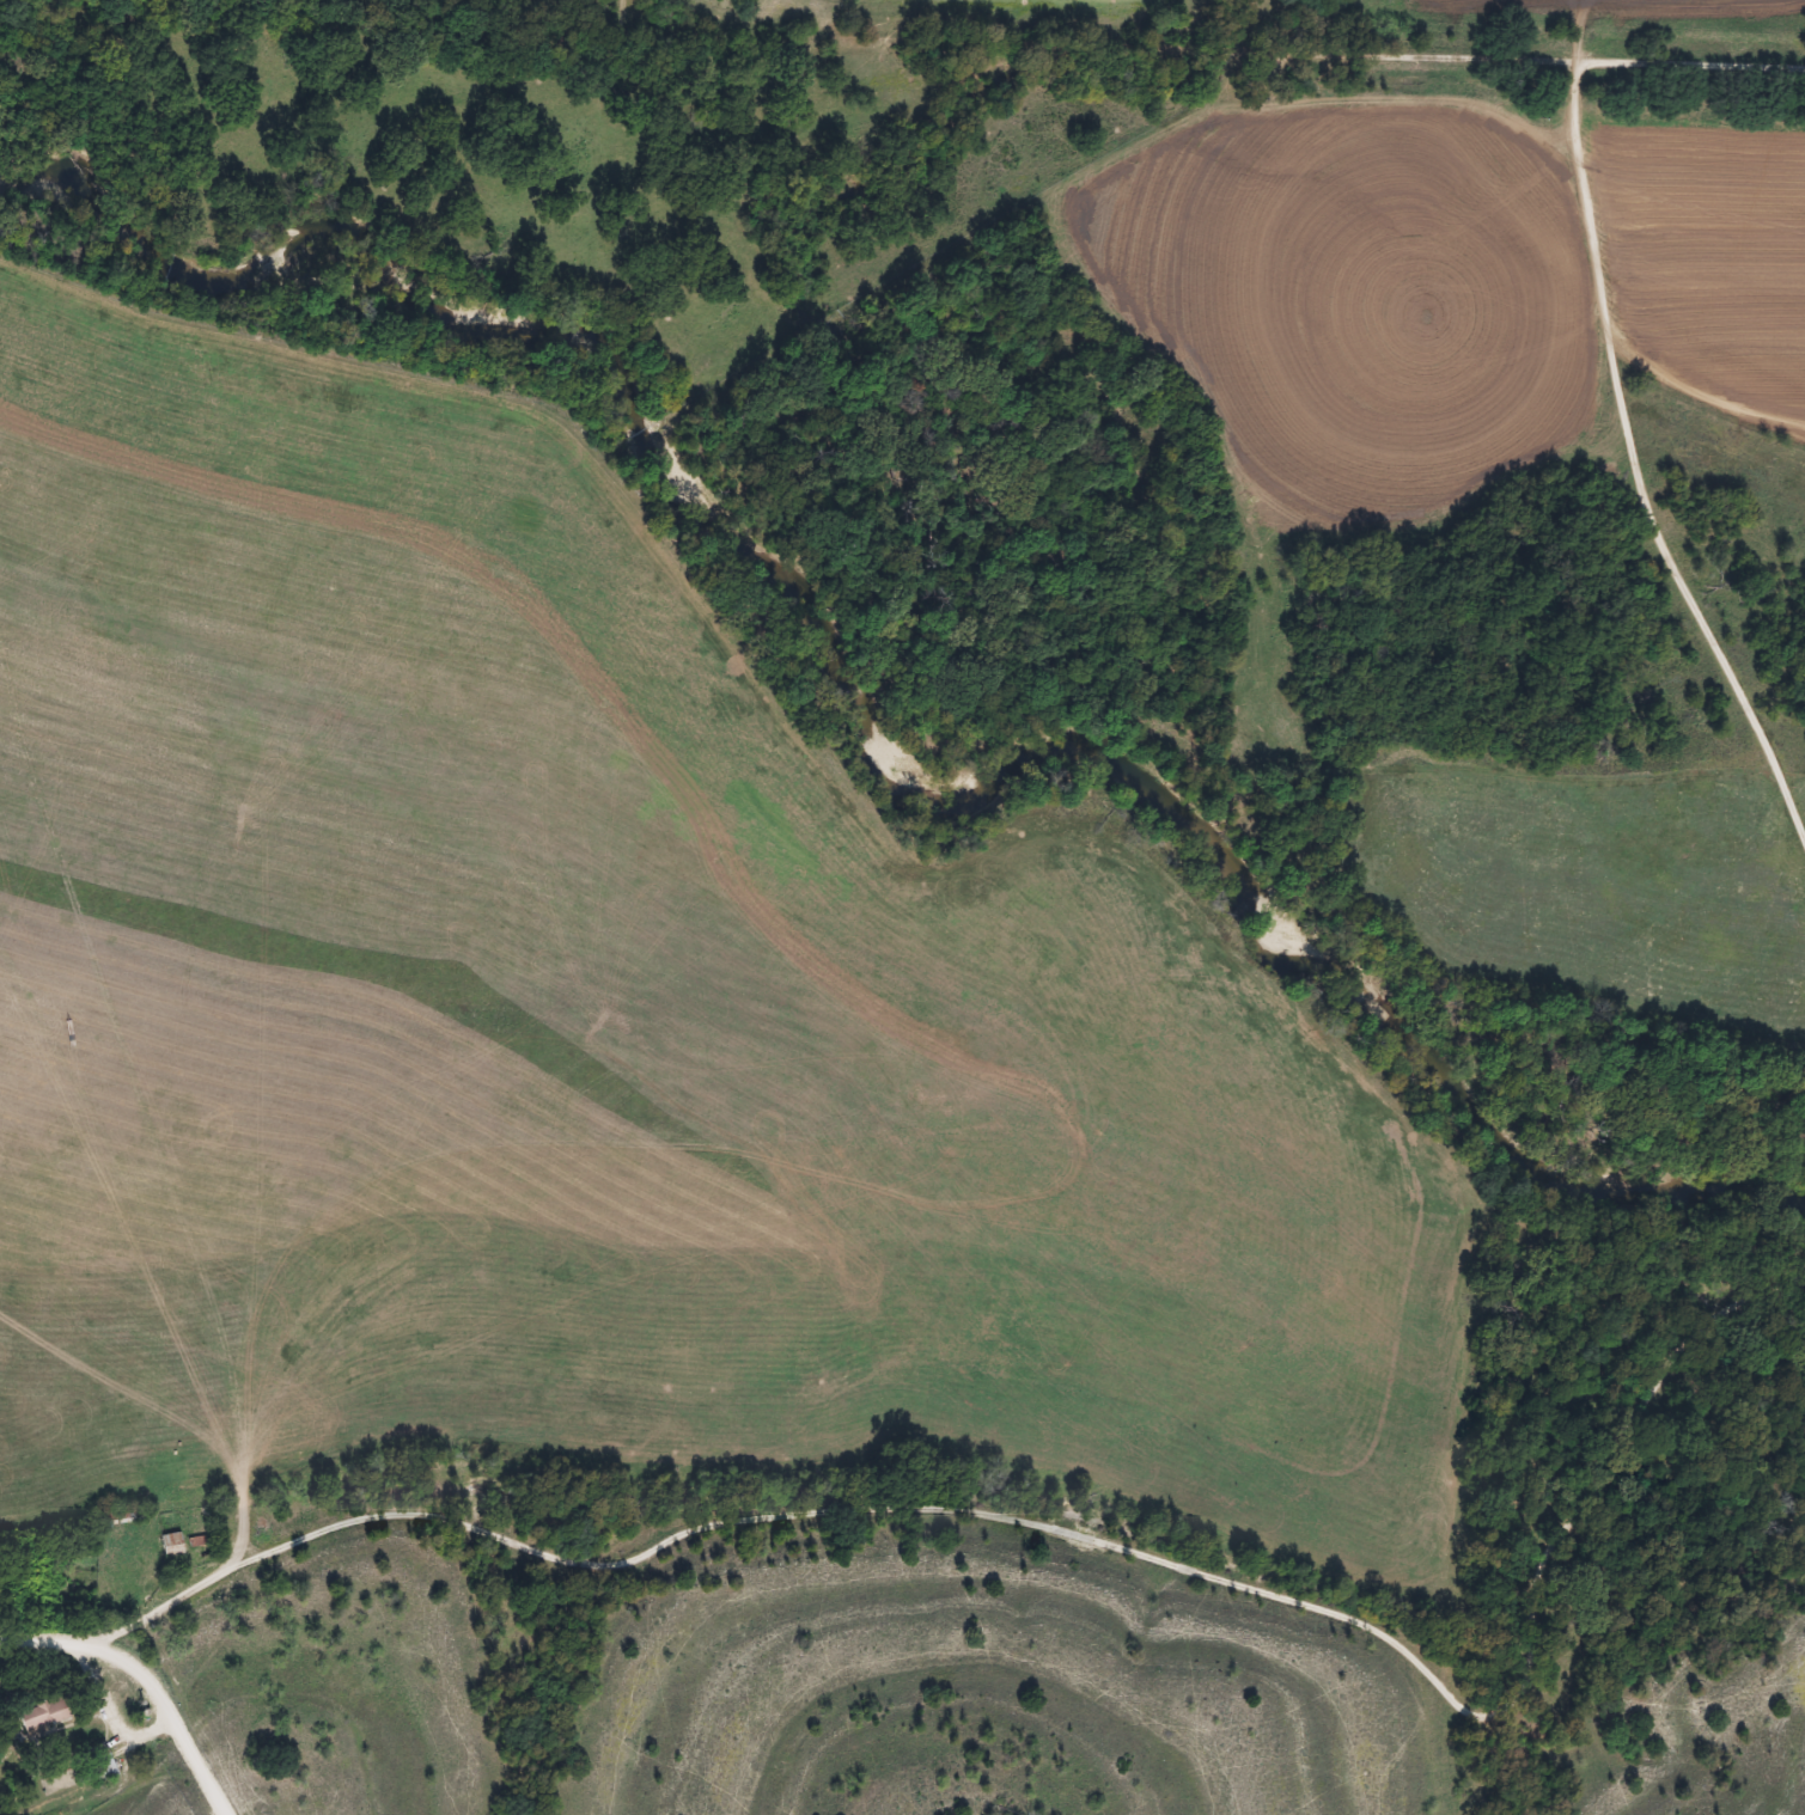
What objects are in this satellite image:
building: (172, 1545)
road: (129, 1577)
road: (48, 1634)
road: (176, 1715)
building: (102, 1765)

